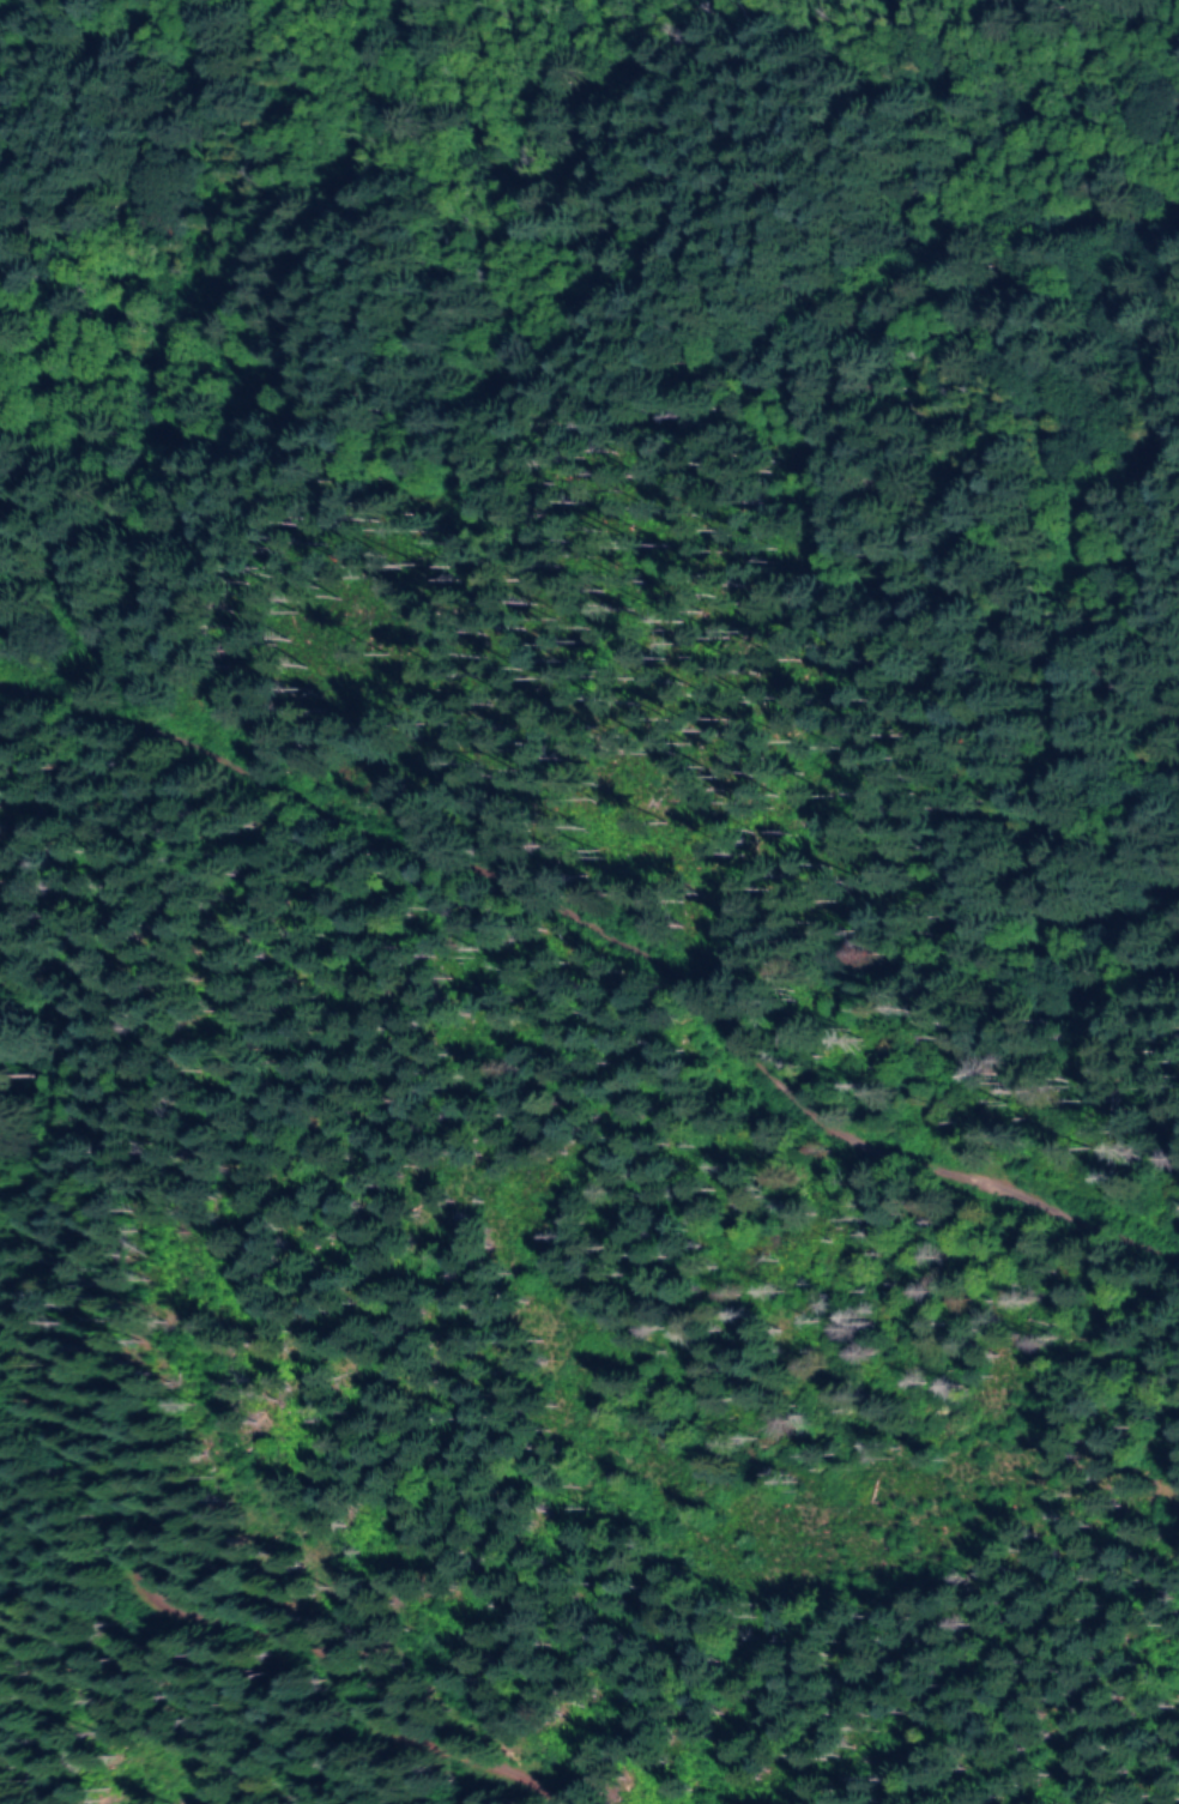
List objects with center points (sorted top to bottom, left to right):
road: (610, 907)
road: (101, 1468)

